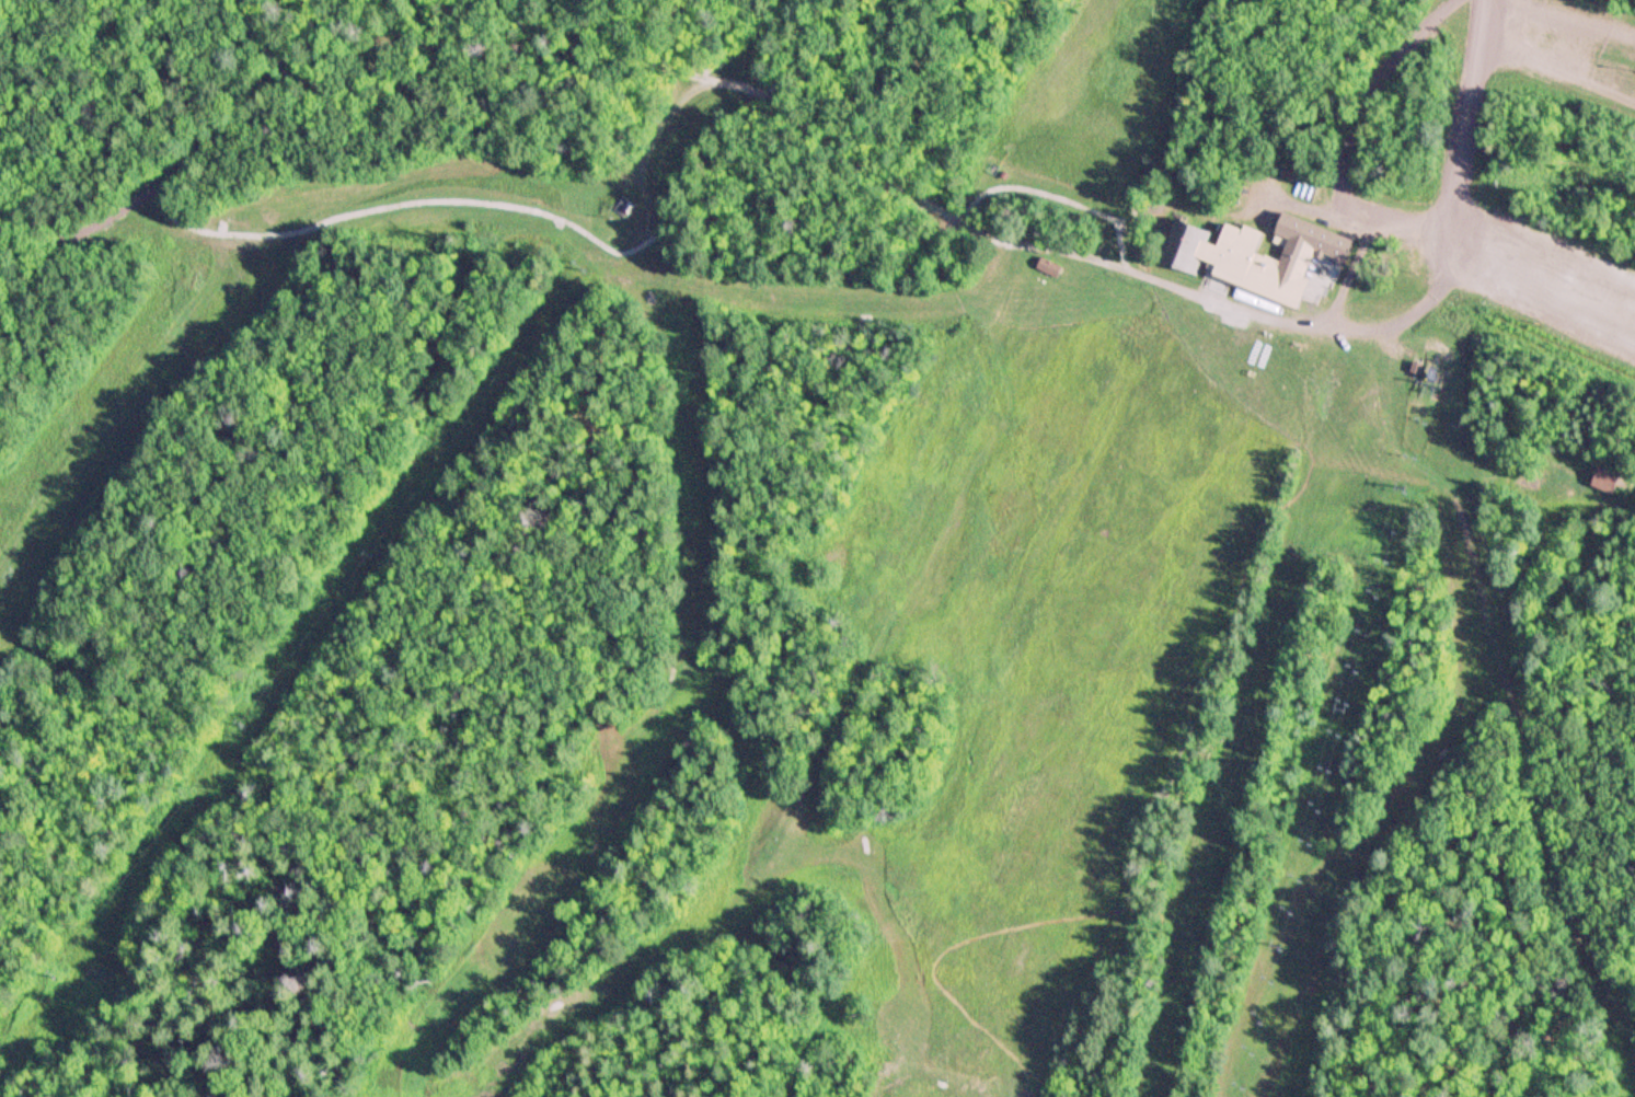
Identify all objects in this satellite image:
road: (1576, 20)
parking lot: (1570, 54)
road: (1559, 69)
road: (222, 136)
road: (1467, 140)
road: (875, 159)
building: (1266, 254)
road: (1545, 259)
parking lot: (1550, 281)
road: (1545, 289)
road: (1542, 295)
building: (1608, 477)
road: (1496, 680)

